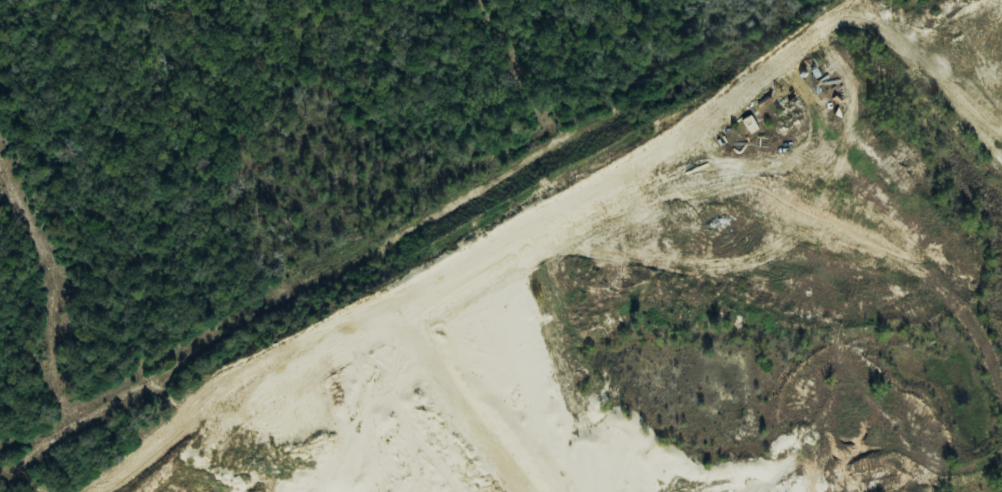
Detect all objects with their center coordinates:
building: (754, 125)

